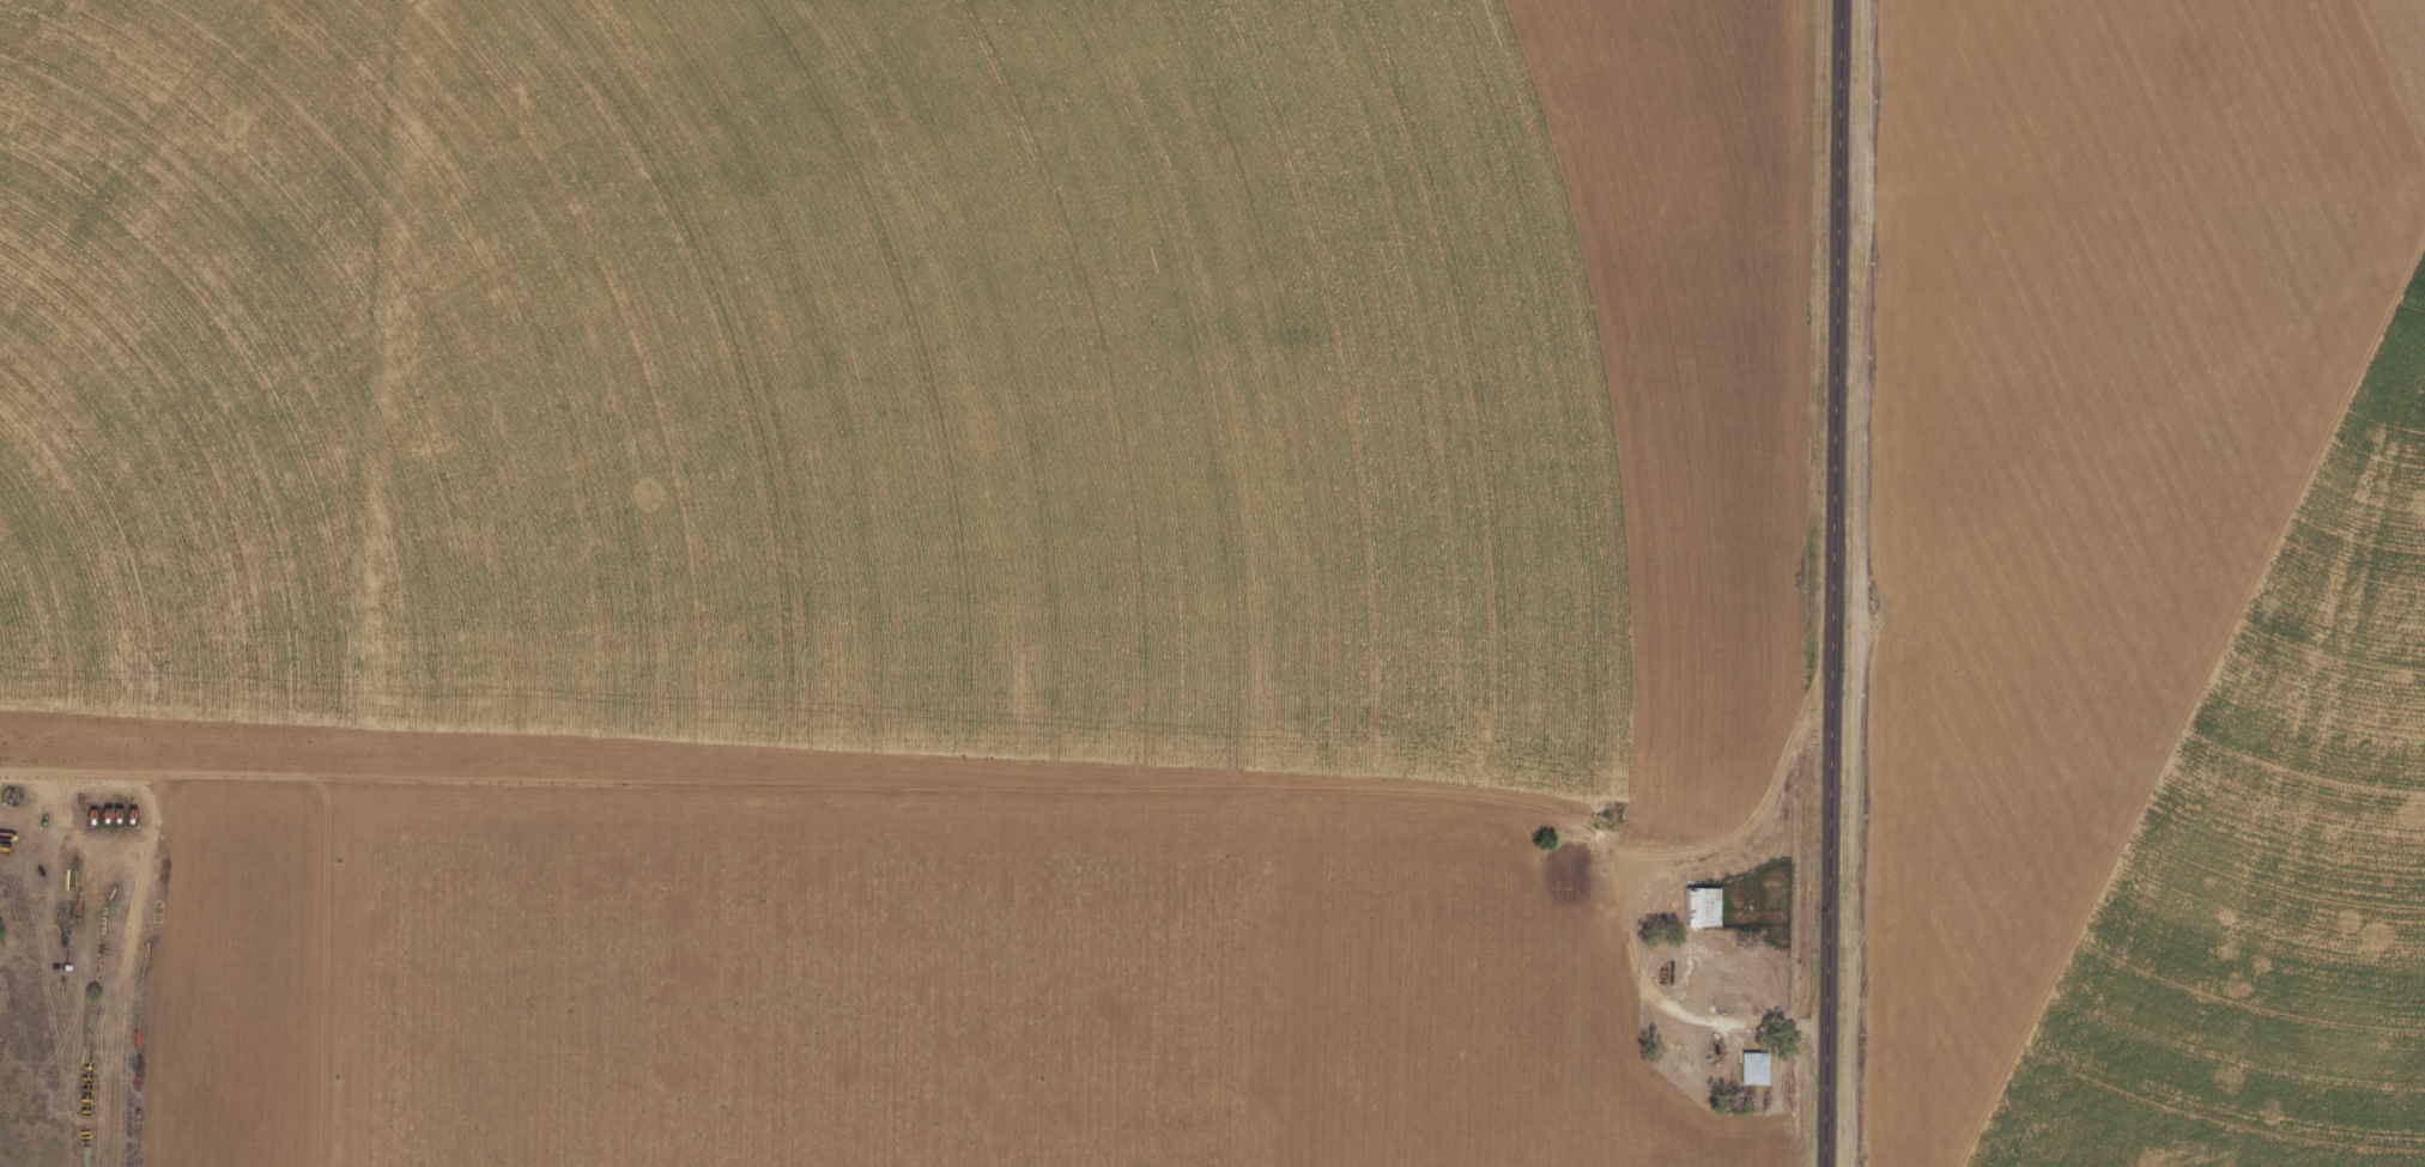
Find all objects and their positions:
road: (341, 546)
road: (1838, 583)
road: (2129, 825)
road: (307, 970)
building: (1759, 1068)

